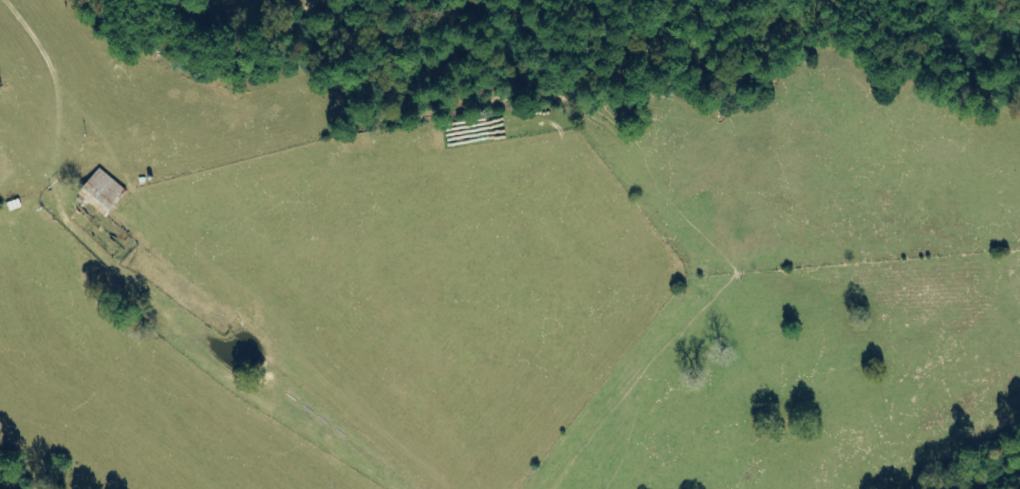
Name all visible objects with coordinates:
building: (104, 191)

